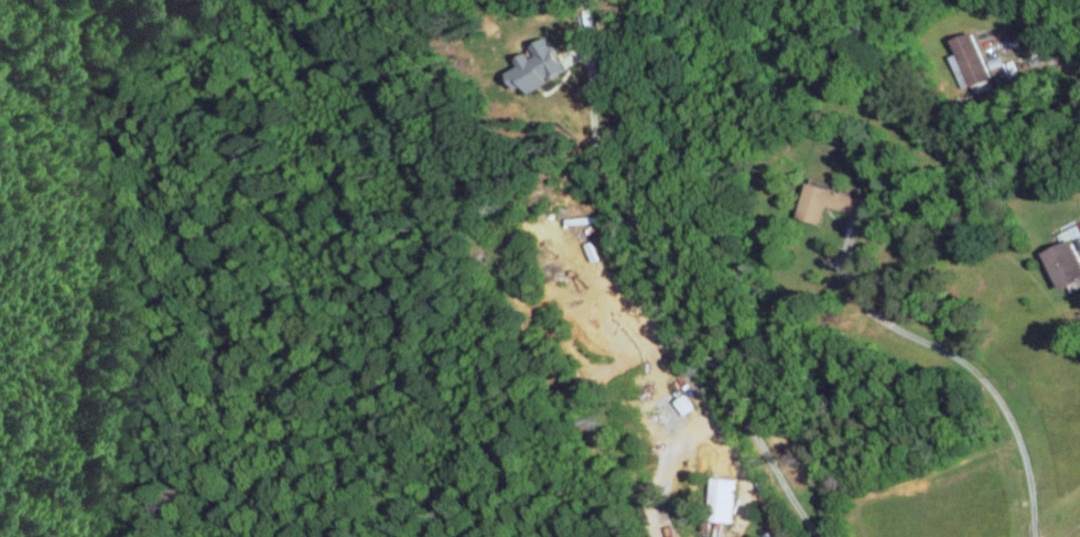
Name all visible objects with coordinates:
building: (971, 61)
building: (541, 65)
building: (829, 200)
building: (1070, 233)
building: (1067, 261)
road: (679, 299)
road: (966, 363)
road: (744, 473)
building: (723, 497)
building: (780, 528)

